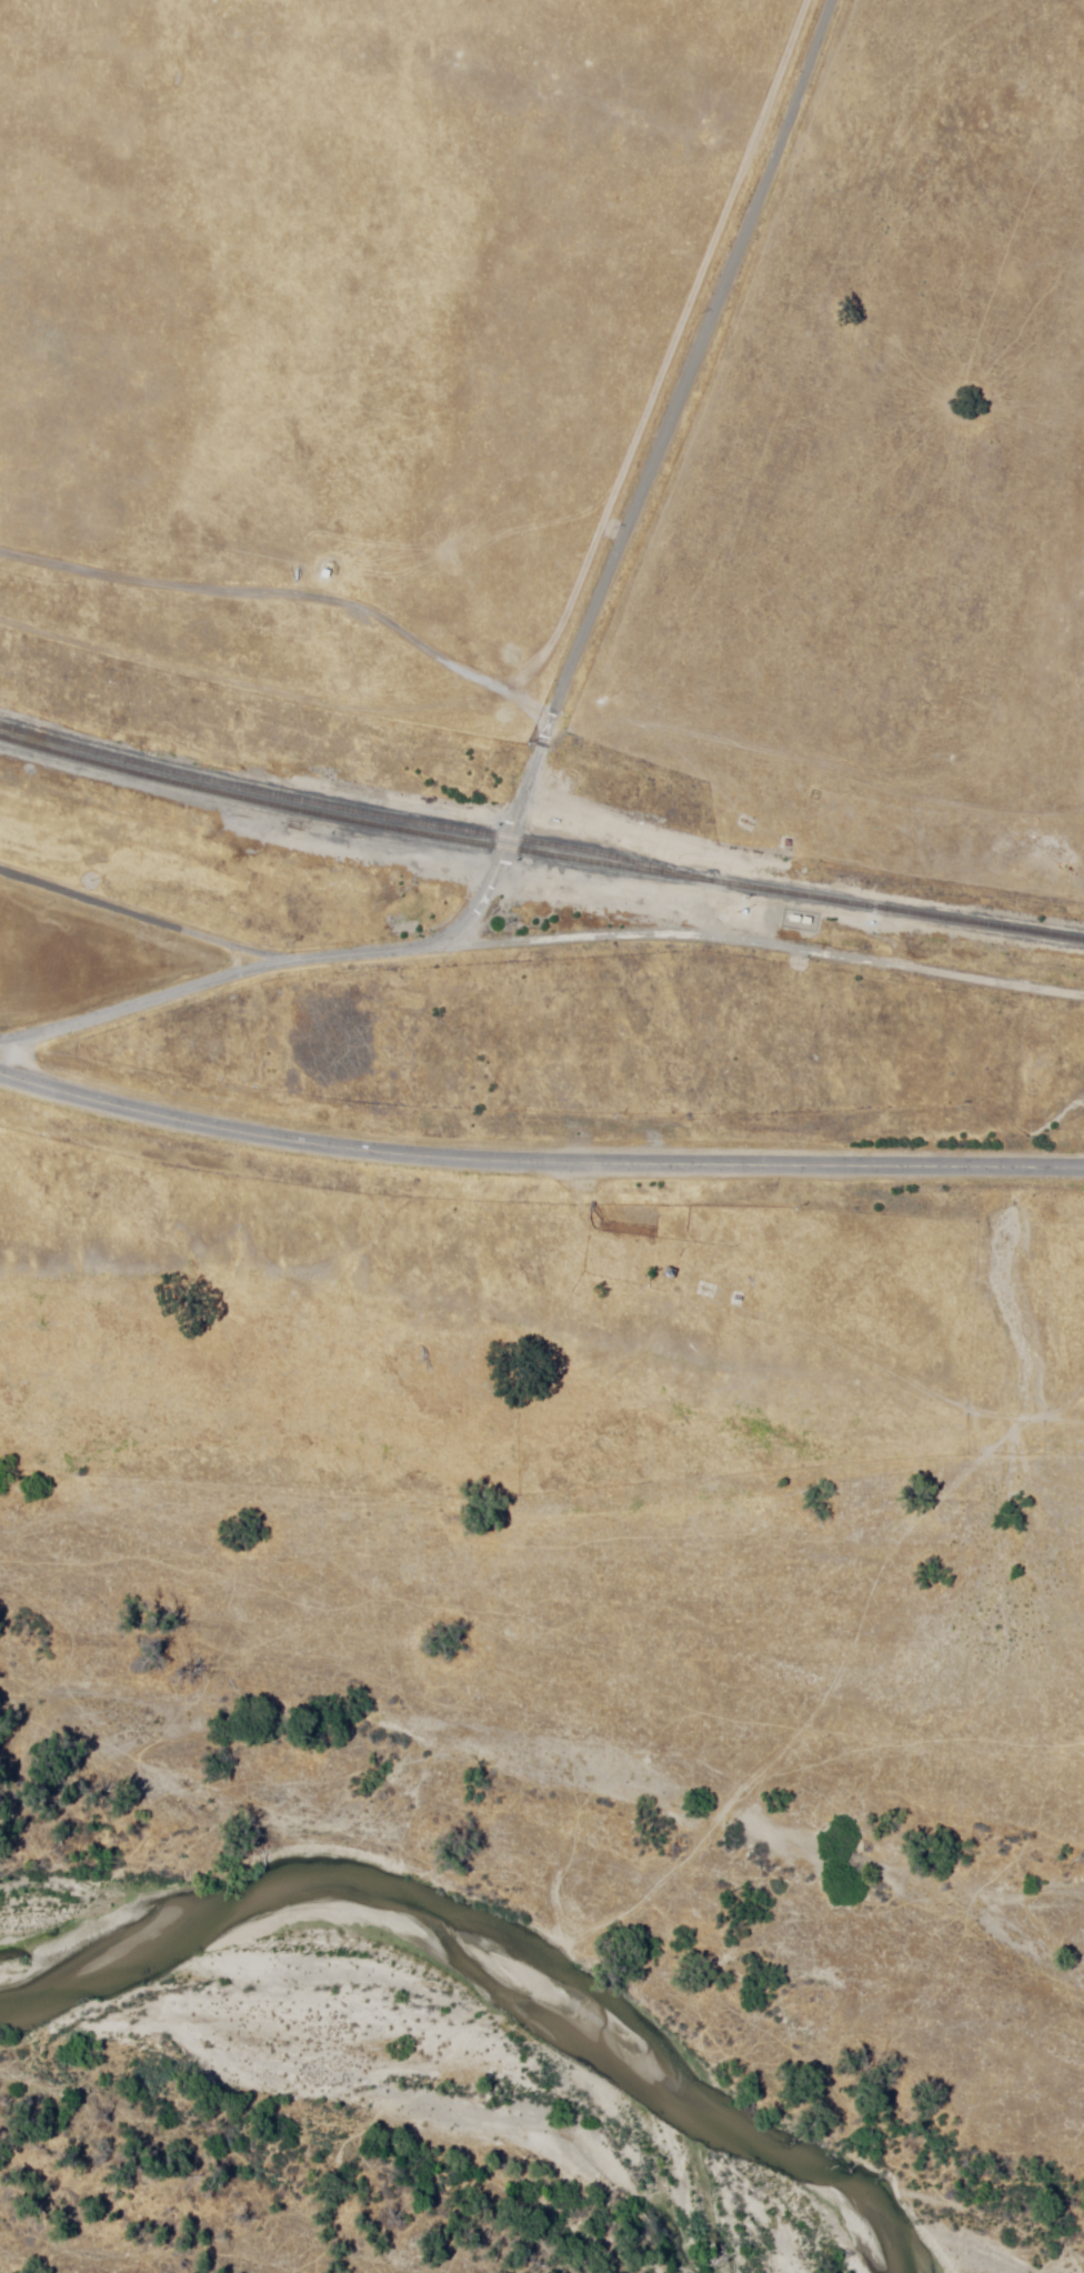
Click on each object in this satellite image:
road: (292, 603)
road: (569, 691)
railway: (348, 809)
railway: (348, 819)
railway: (892, 913)
road: (141, 923)
road: (767, 945)
building: (213, 1050)
road: (538, 1166)
river: (496, 1921)
river: (997, 2219)

